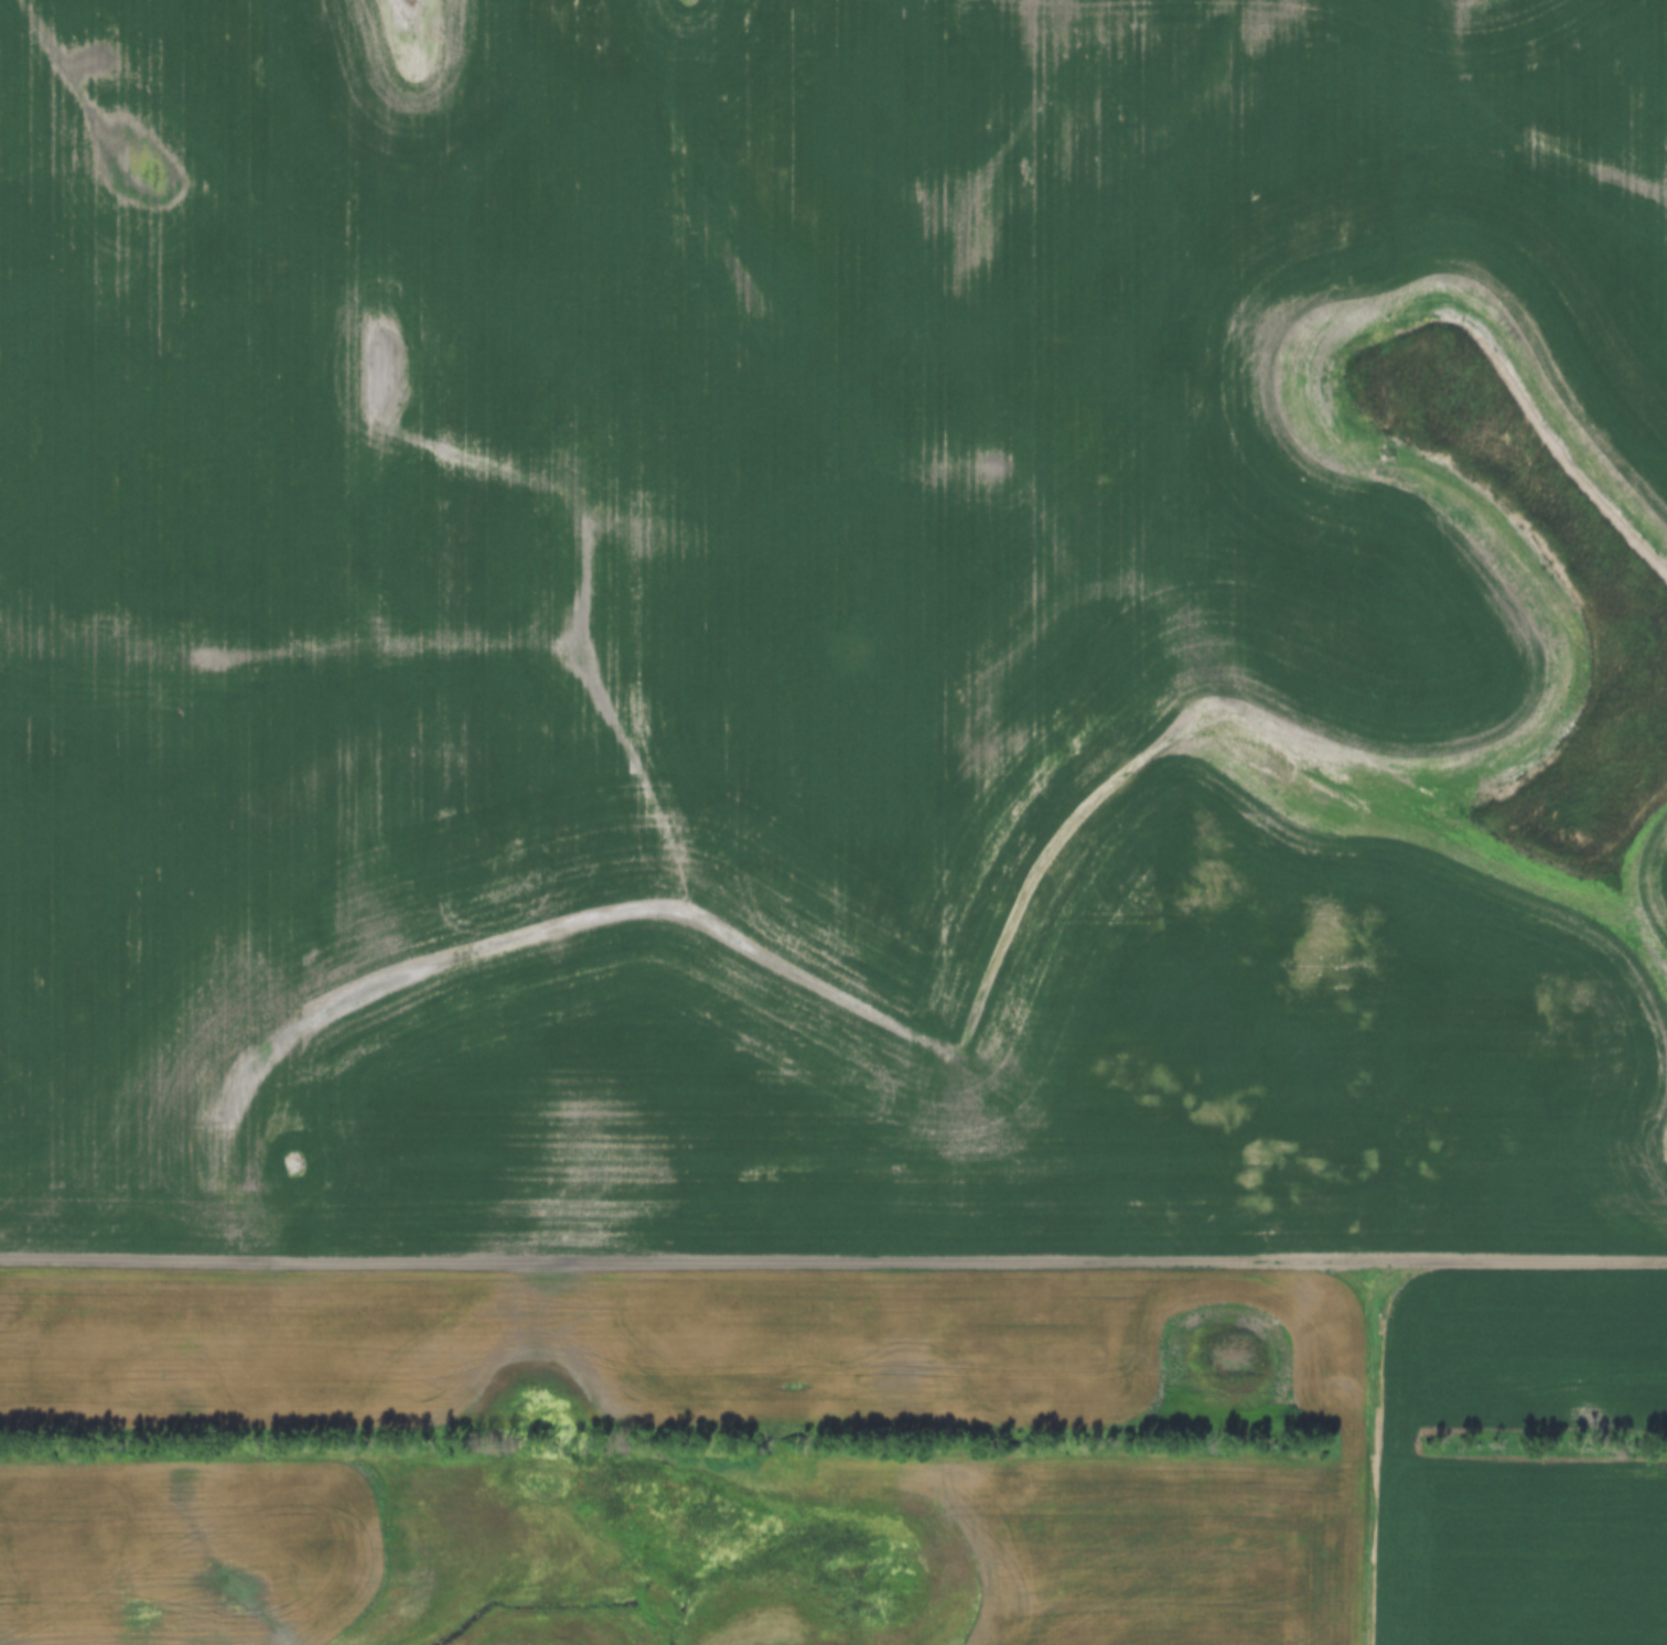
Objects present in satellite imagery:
road: (833, 1258)
road: (1373, 1452)

